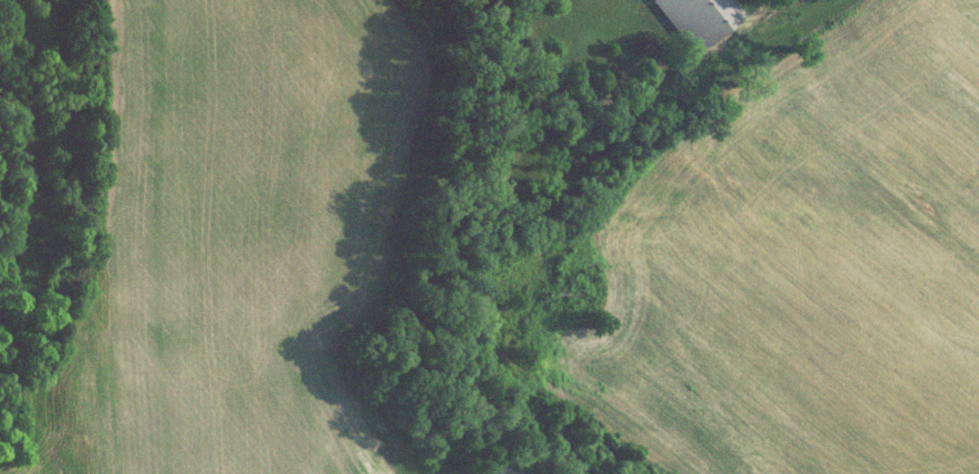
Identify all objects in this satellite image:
building: (695, 21)

